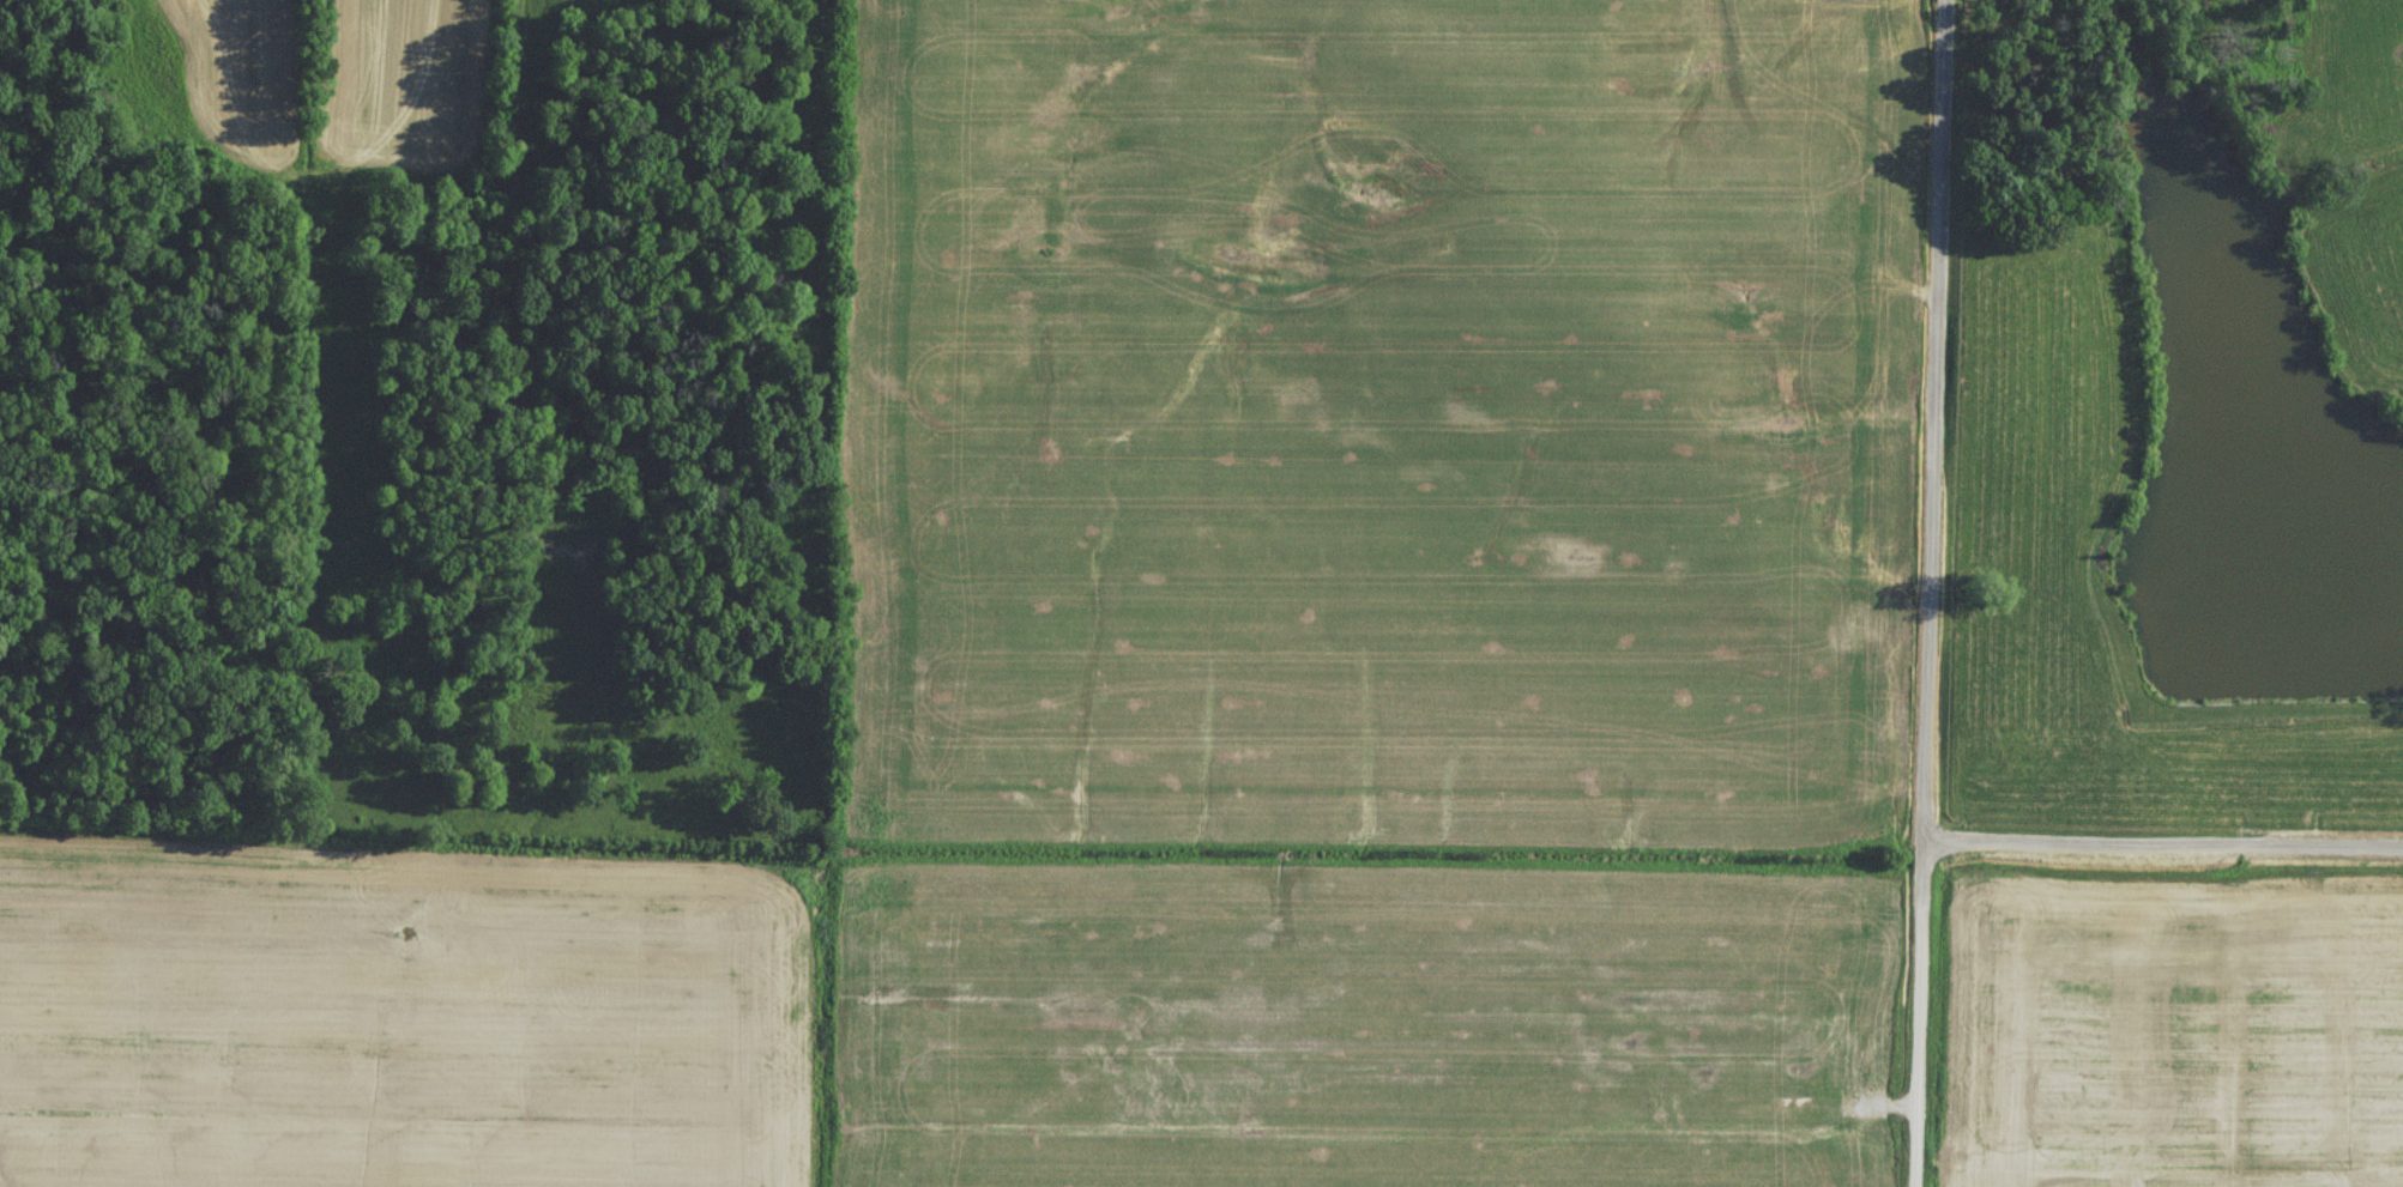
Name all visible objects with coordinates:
road: (1937, 593)
road: (2168, 838)

